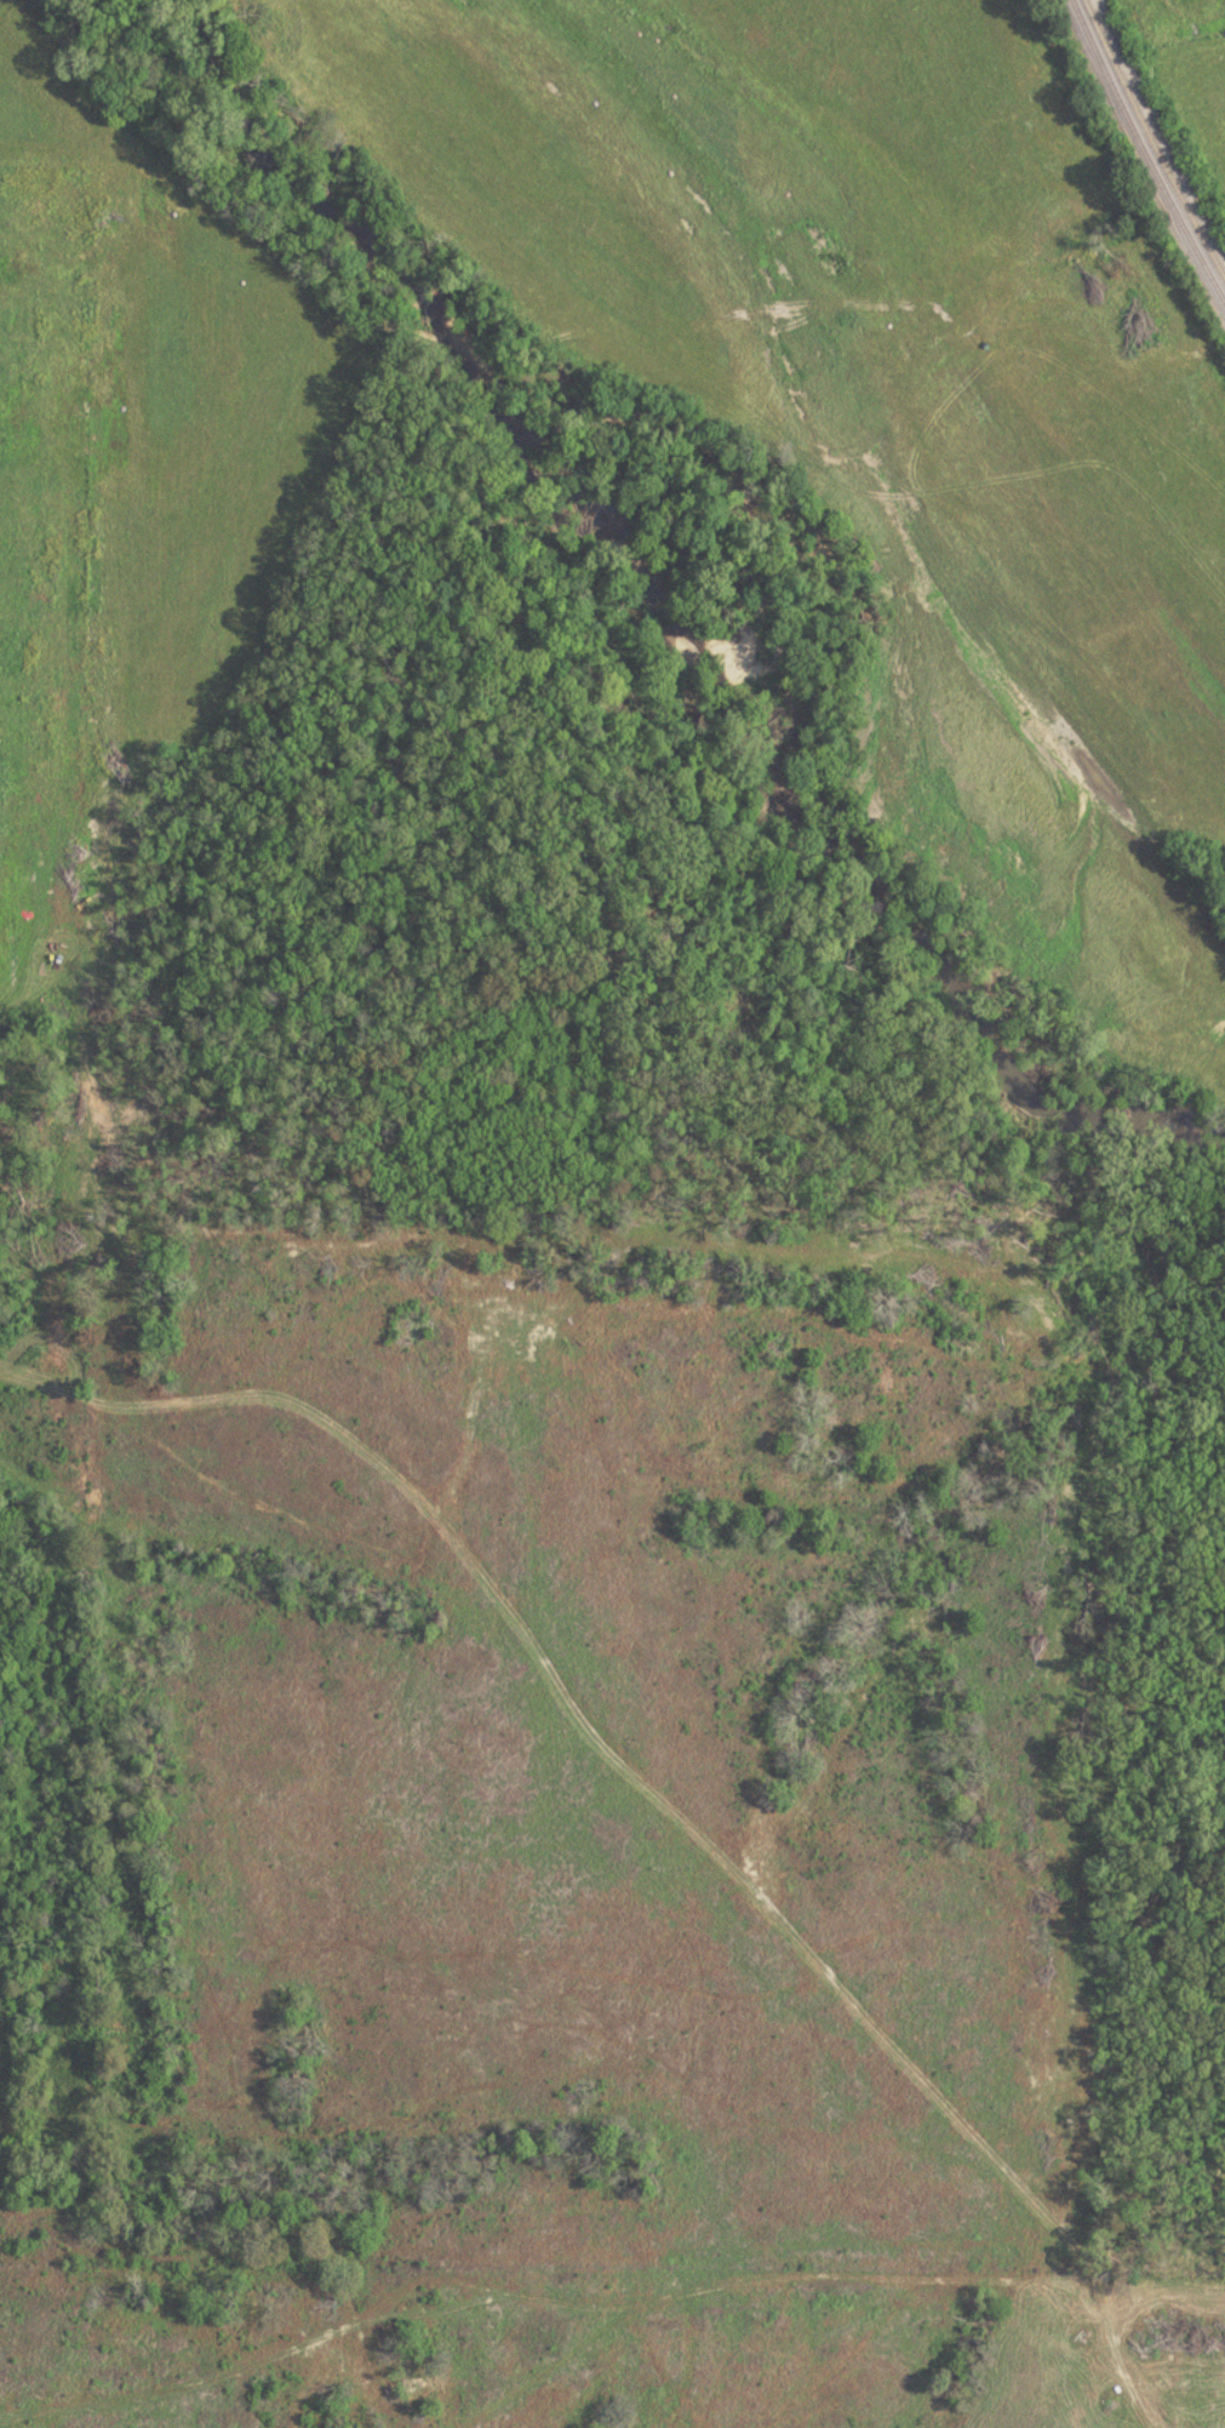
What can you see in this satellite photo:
railway: (1154, 138)
railway: (1145, 154)

